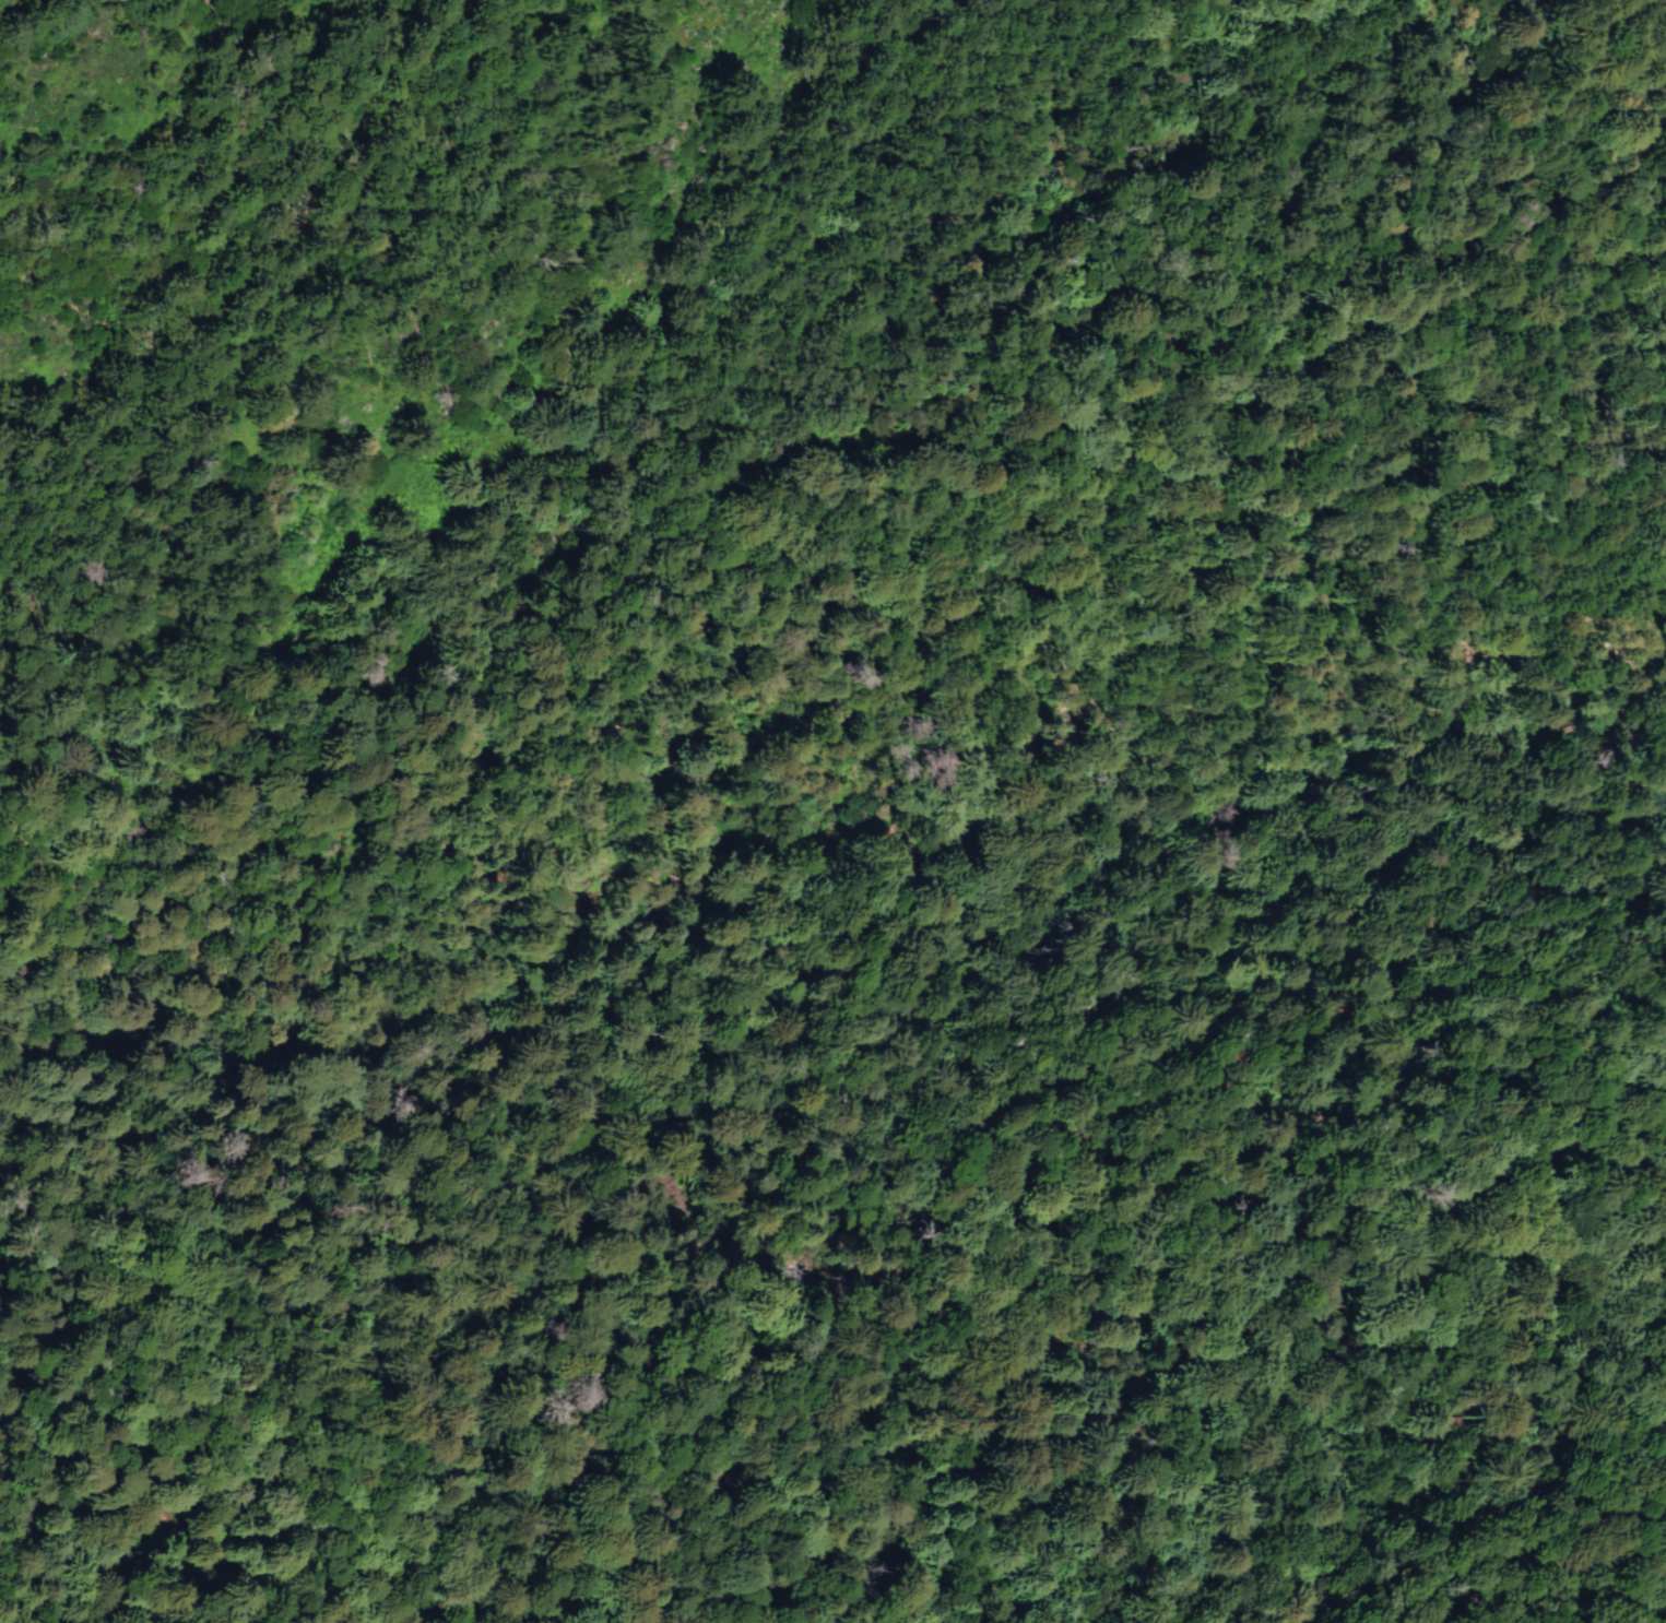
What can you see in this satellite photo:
road: (19, 12)
road: (611, 462)
road: (1259, 664)
road: (825, 852)
road: (731, 865)
road: (643, 887)
road: (618, 900)
road: (599, 926)
road: (472, 999)
road: (159, 1031)
road: (330, 1033)
road: (1060, 1241)
building: (797, 1498)
road: (725, 1551)
road: (200, 1561)
road: (128, 1588)

